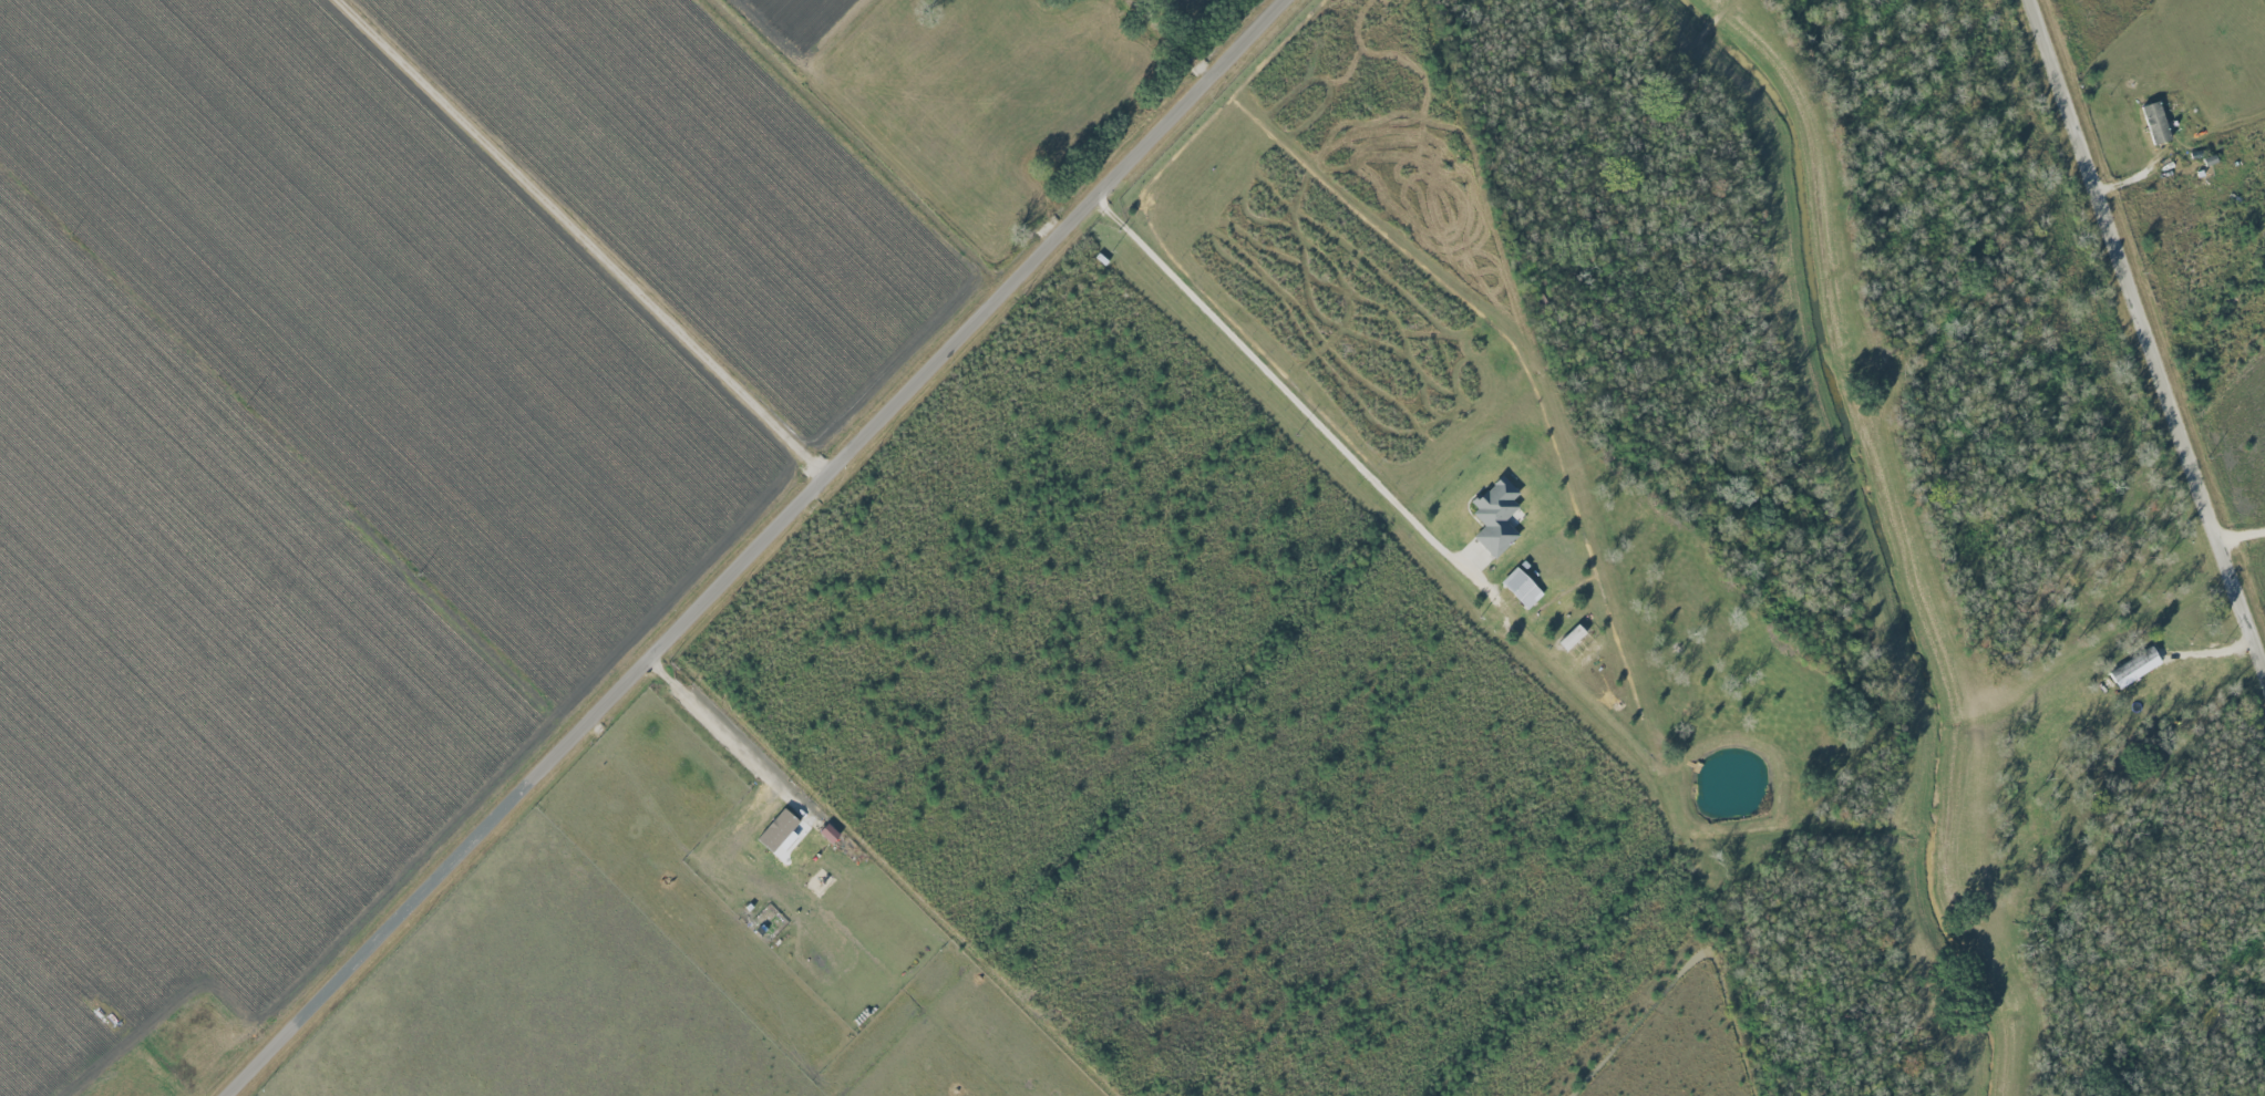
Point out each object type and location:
building: (2156, 123)
road: (871, 143)
road: (583, 238)
road: (2149, 328)
road: (1280, 384)
road: (1579, 415)
road: (287, 455)
building: (1496, 516)
road: (761, 548)
building: (1522, 587)
building: (1573, 637)
building: (2124, 669)
road: (719, 728)
building: (780, 831)
building: (830, 833)

